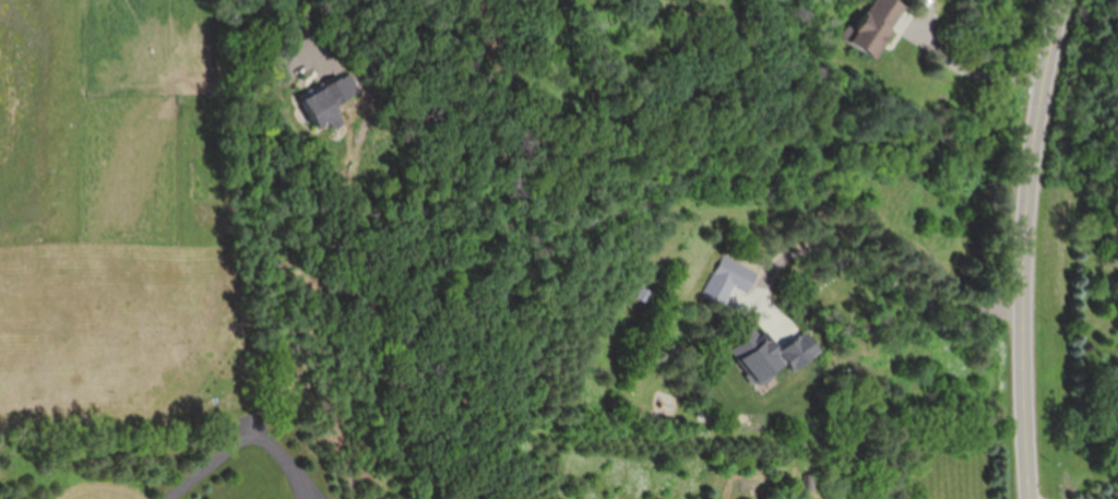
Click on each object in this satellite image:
building: (877, 24)
road: (312, 32)
road: (984, 75)
road: (1032, 247)
road: (869, 262)
building: (730, 280)
building: (768, 364)
road: (231, 428)

